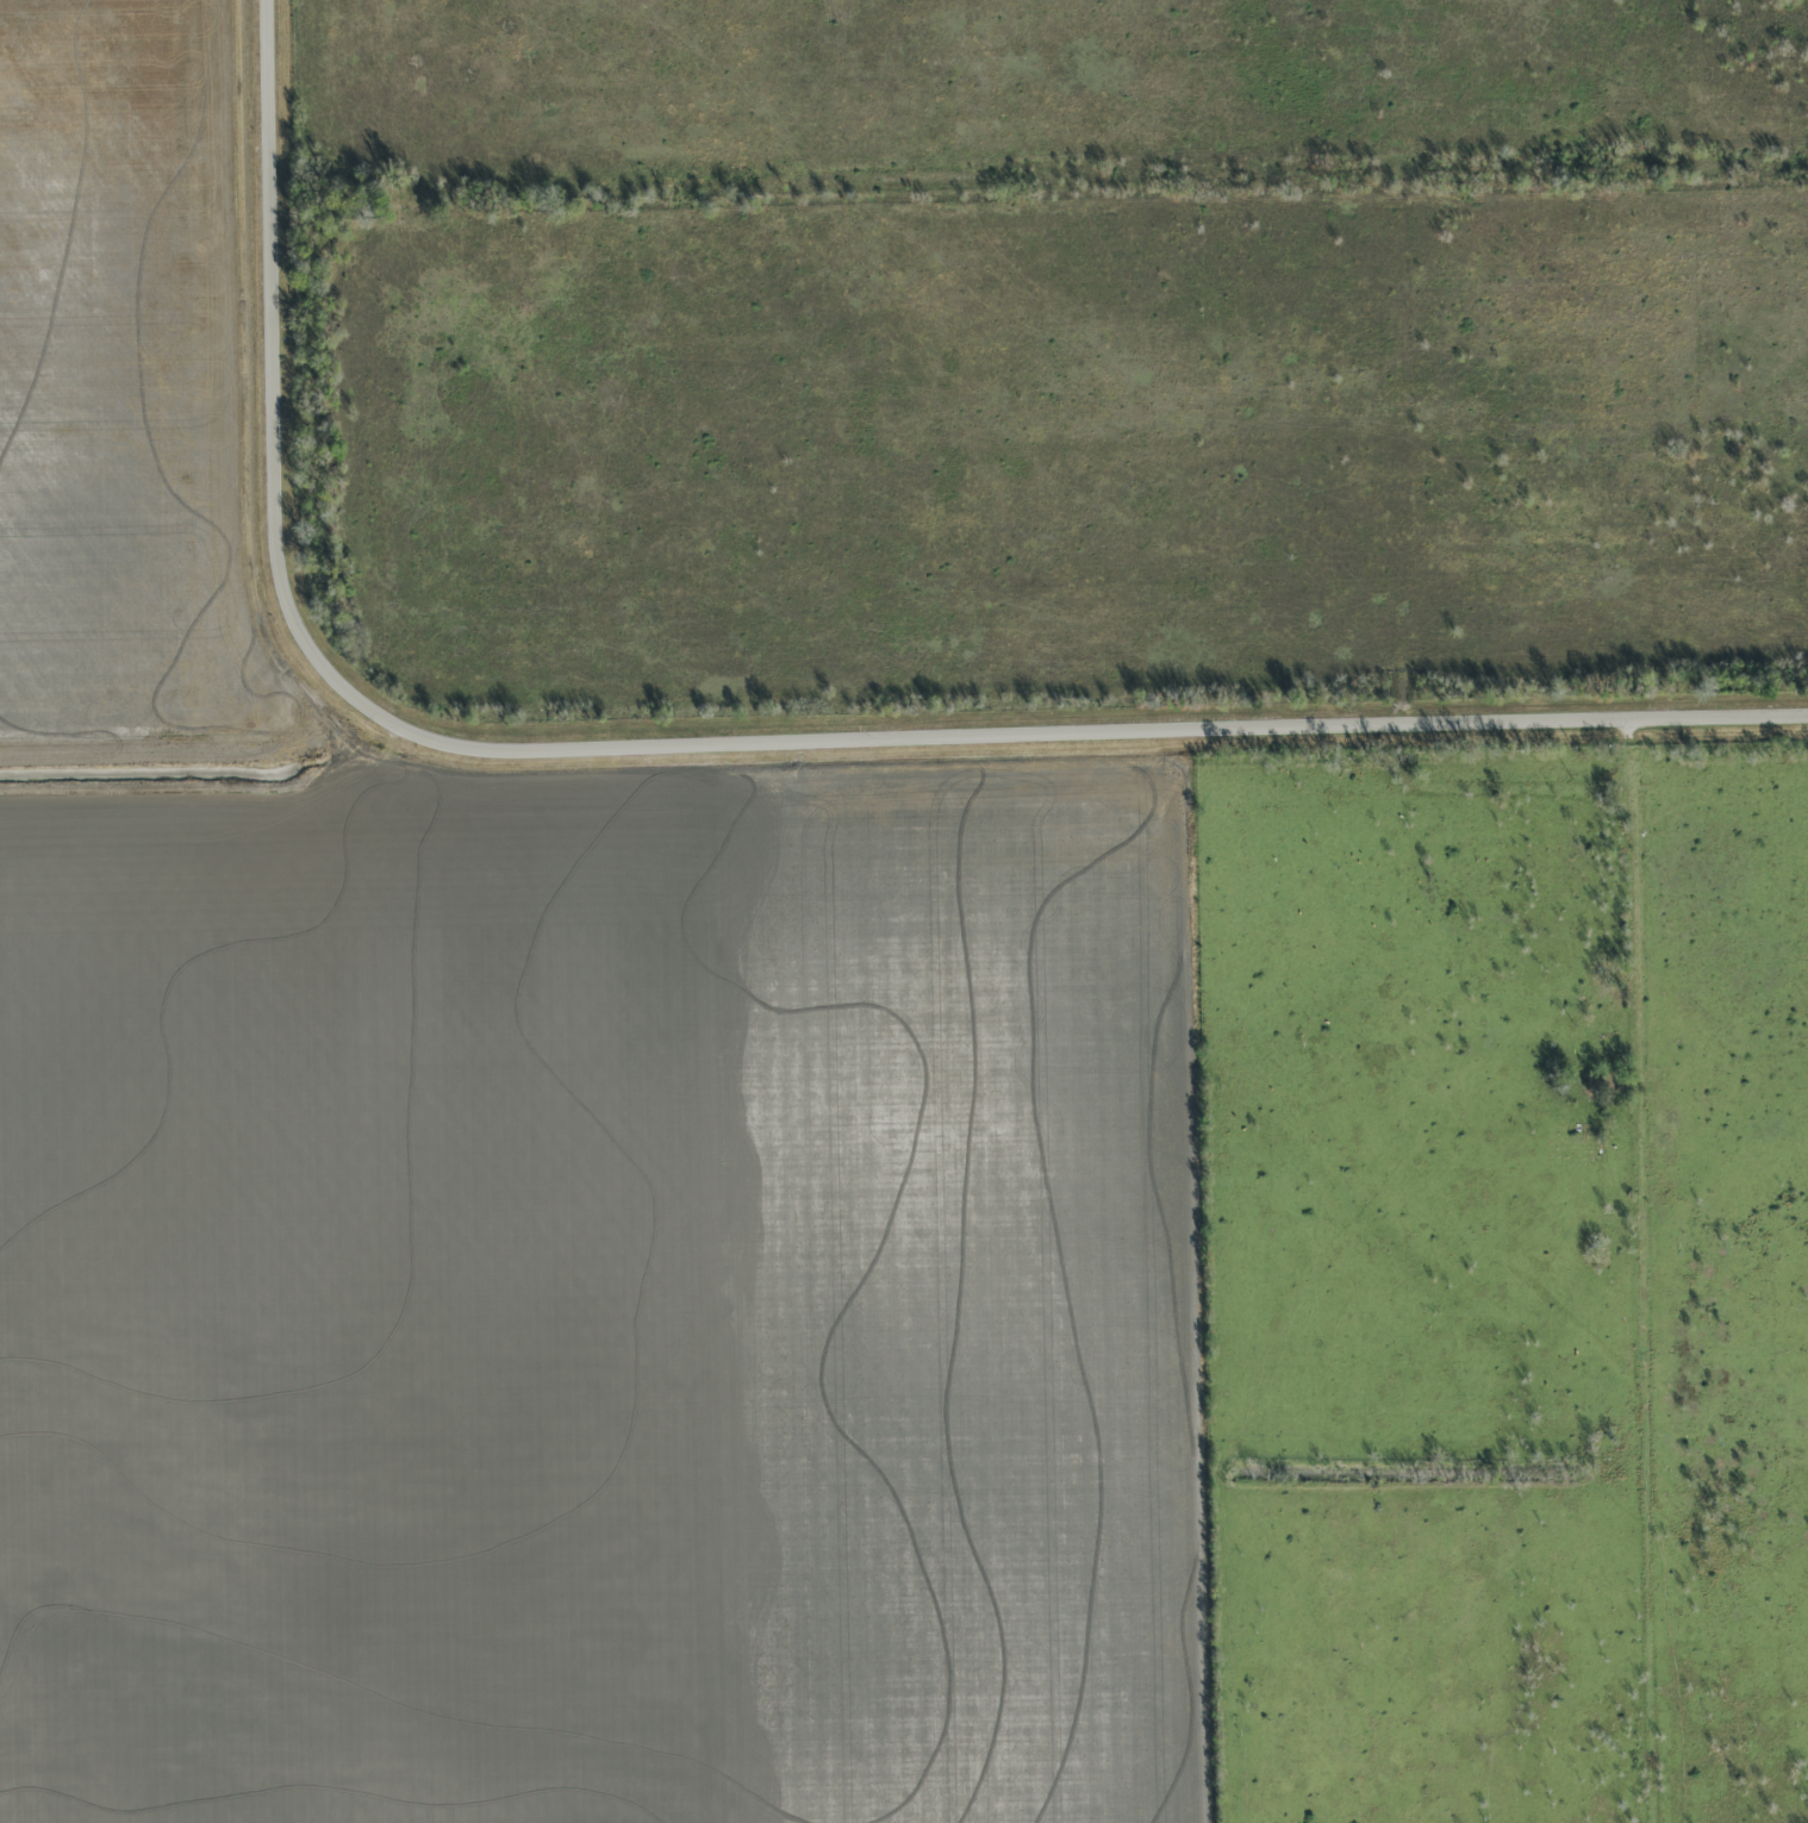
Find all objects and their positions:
road: (716, 743)

